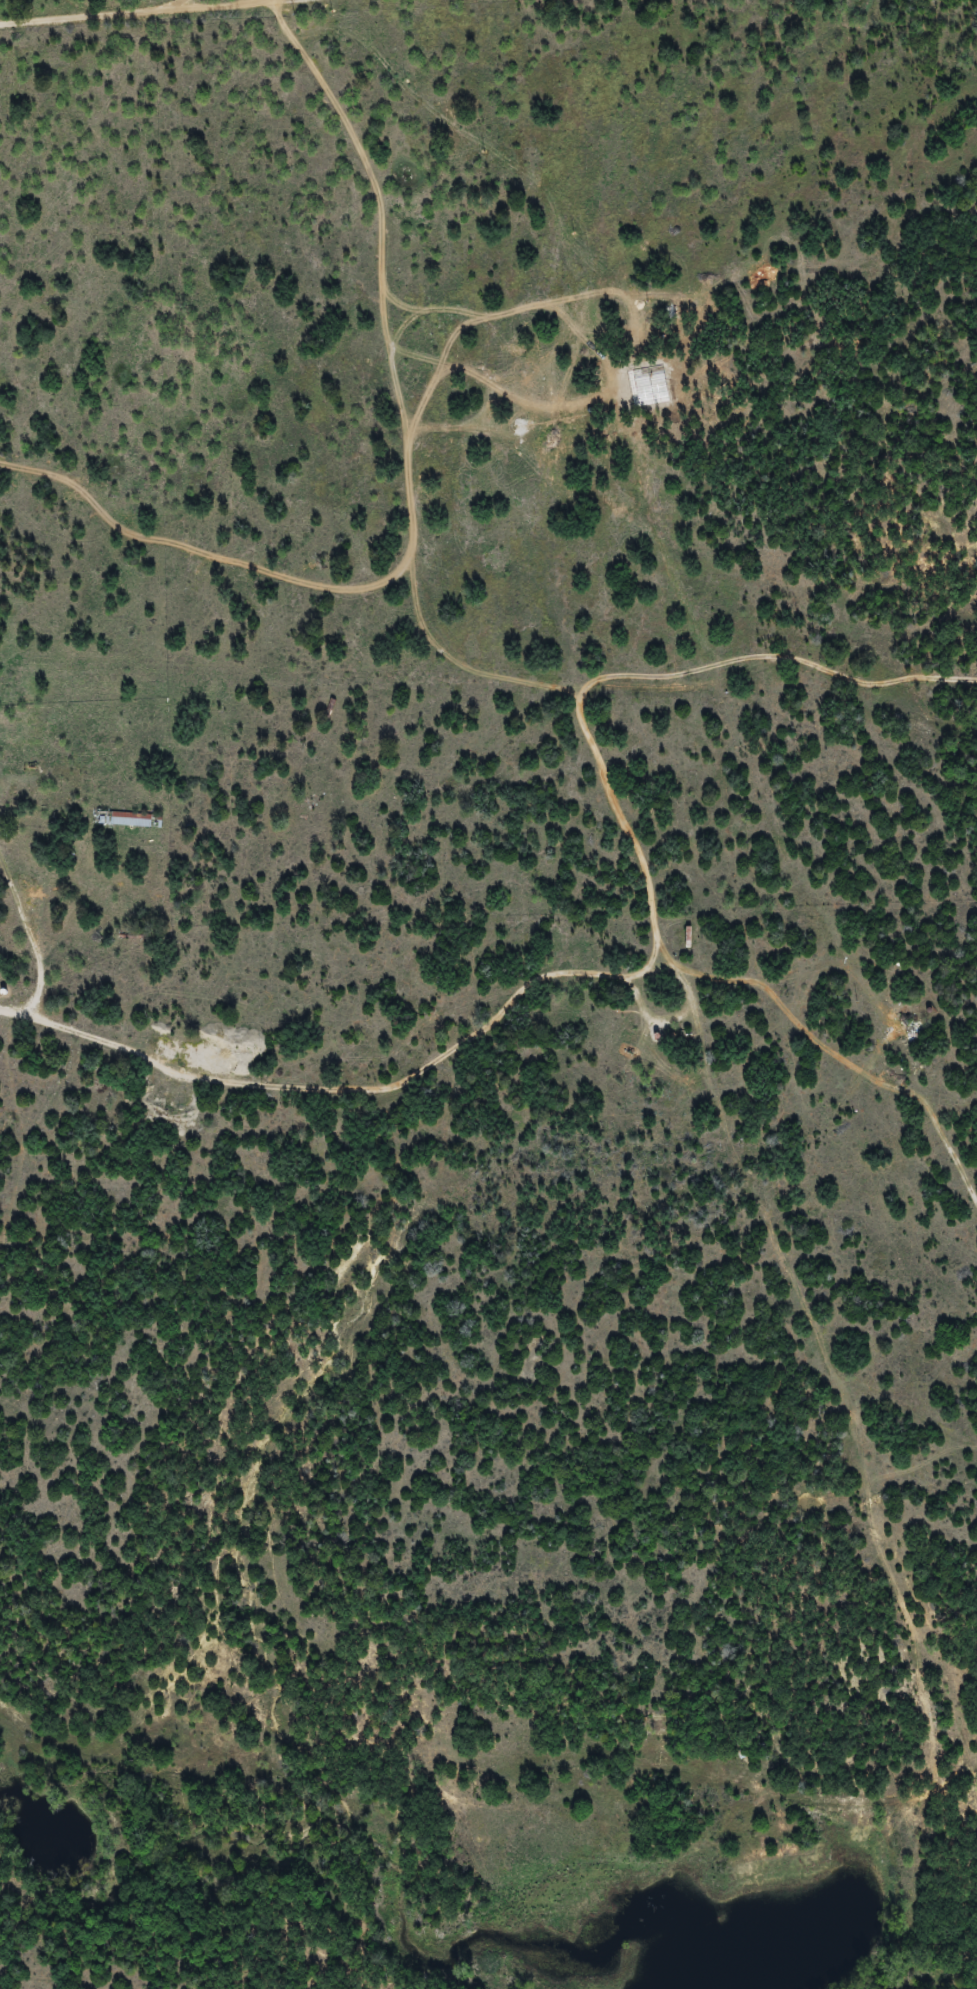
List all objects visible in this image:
building: (129, 820)

